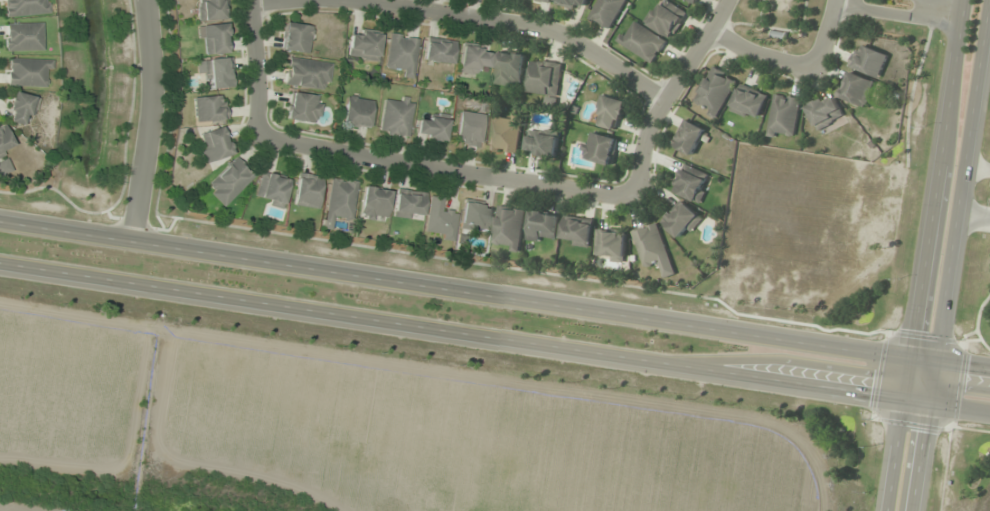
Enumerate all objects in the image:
building: (544, 0)
road: (958, 0)
road: (262, 1)
building: (693, 1)
building: (570, 3)
road: (989, 6)
building: (24, 7)
building: (211, 10)
building: (606, 12)
road: (896, 13)
building: (665, 18)
road: (516, 21)
park: (777, 22)
road: (987, 23)
road: (823, 36)
building: (22, 37)
building: (295, 37)
building: (215, 39)
building: (641, 43)
building: (363, 45)
building: (437, 50)
building: (401, 53)
road: (756, 56)
building: (472, 58)
building: (868, 61)
road: (255, 65)
building: (509, 69)
building: (27, 72)
building: (217, 73)
building: (306, 73)
building: (545, 79)
building: (856, 90)
building: (714, 92)
road: (667, 93)
building: (748, 103)
building: (21, 107)
building: (303, 107)
building: (208, 108)
building: (356, 112)
building: (824, 112)
building: (609, 113)
building: (395, 116)
building: (783, 117)
road: (149, 121)
building: (431, 127)
building: (468, 129)
building: (505, 135)
building: (687, 138)
building: (5, 142)
building: (541, 144)
building: (214, 145)
building: (598, 149)
road: (444, 166)
road: (976, 166)
building: (4, 167)
building: (229, 181)
building: (691, 183)
building: (271, 189)
building: (307, 190)
road: (932, 200)
building: (339, 201)
road: (956, 201)
building: (373, 203)
building: (408, 204)
building: (475, 216)
building: (439, 221)
building: (682, 221)
building: (542, 227)
building: (508, 229)
building: (576, 232)
building: (610, 246)
building: (652, 249)
road: (494, 295)
road: (495, 337)
traffic signals: (907, 356)
traffic signals: (932, 360)
traffic signals: (901, 400)
traffic signals: (926, 404)
road: (892, 455)
road: (917, 457)

